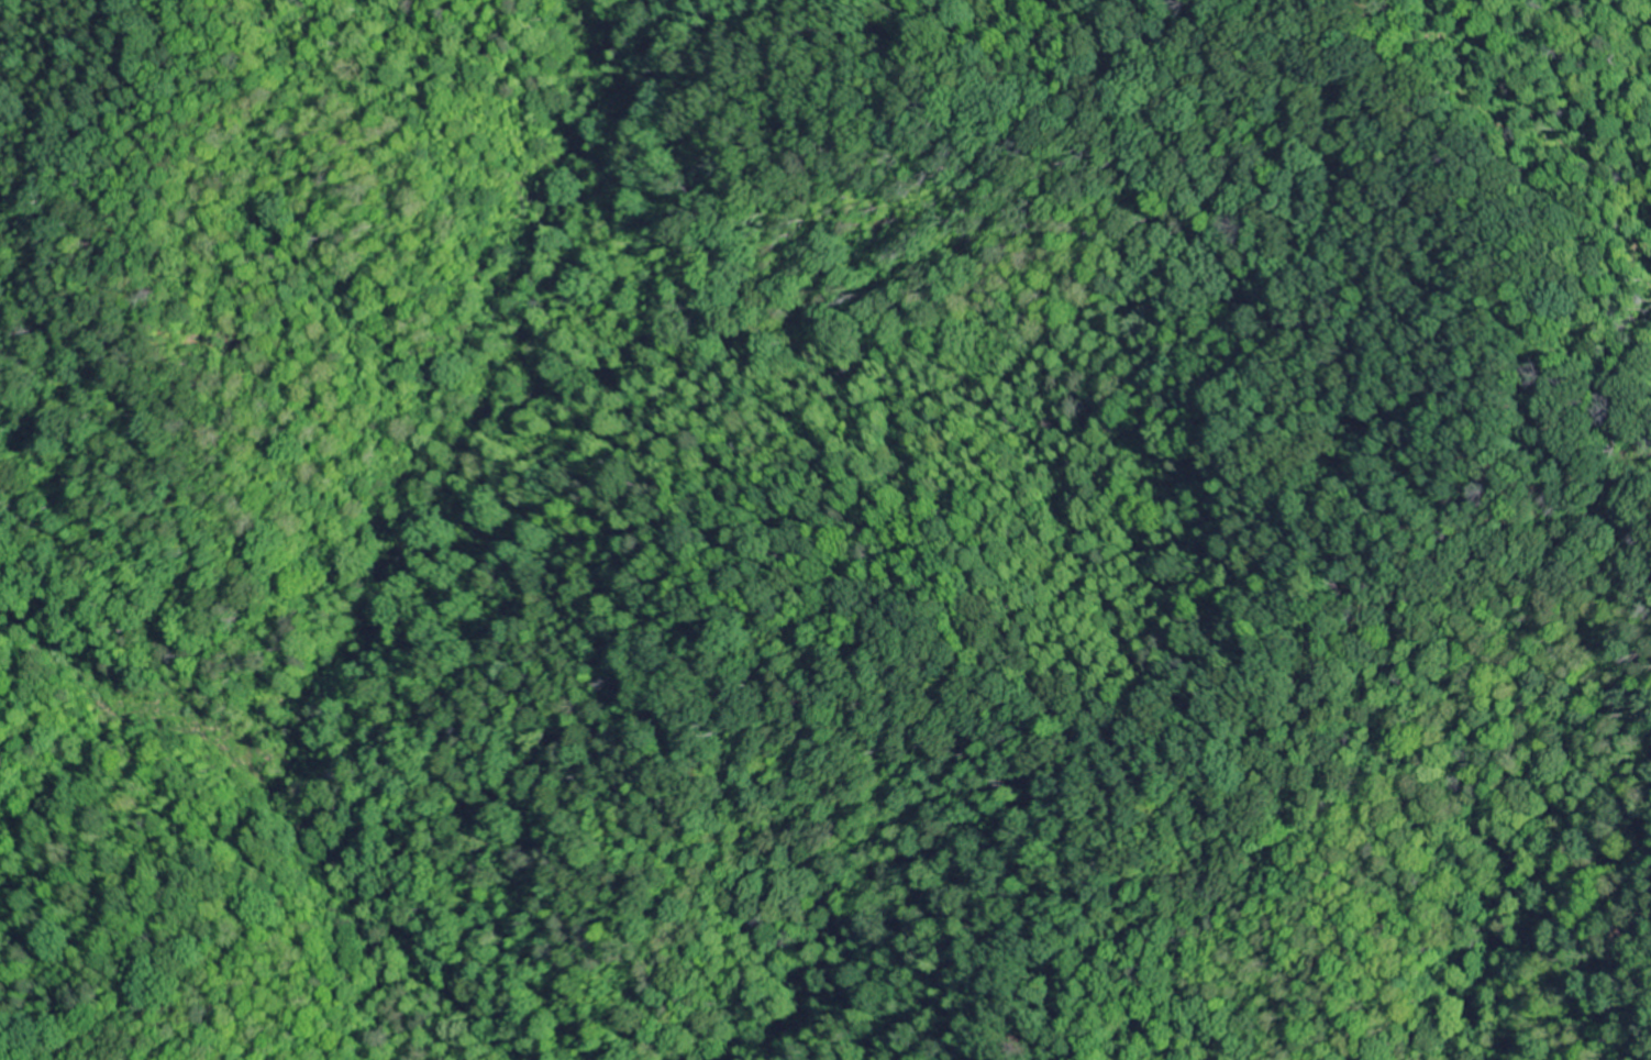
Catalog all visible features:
road: (441, 369)
road: (252, 779)

